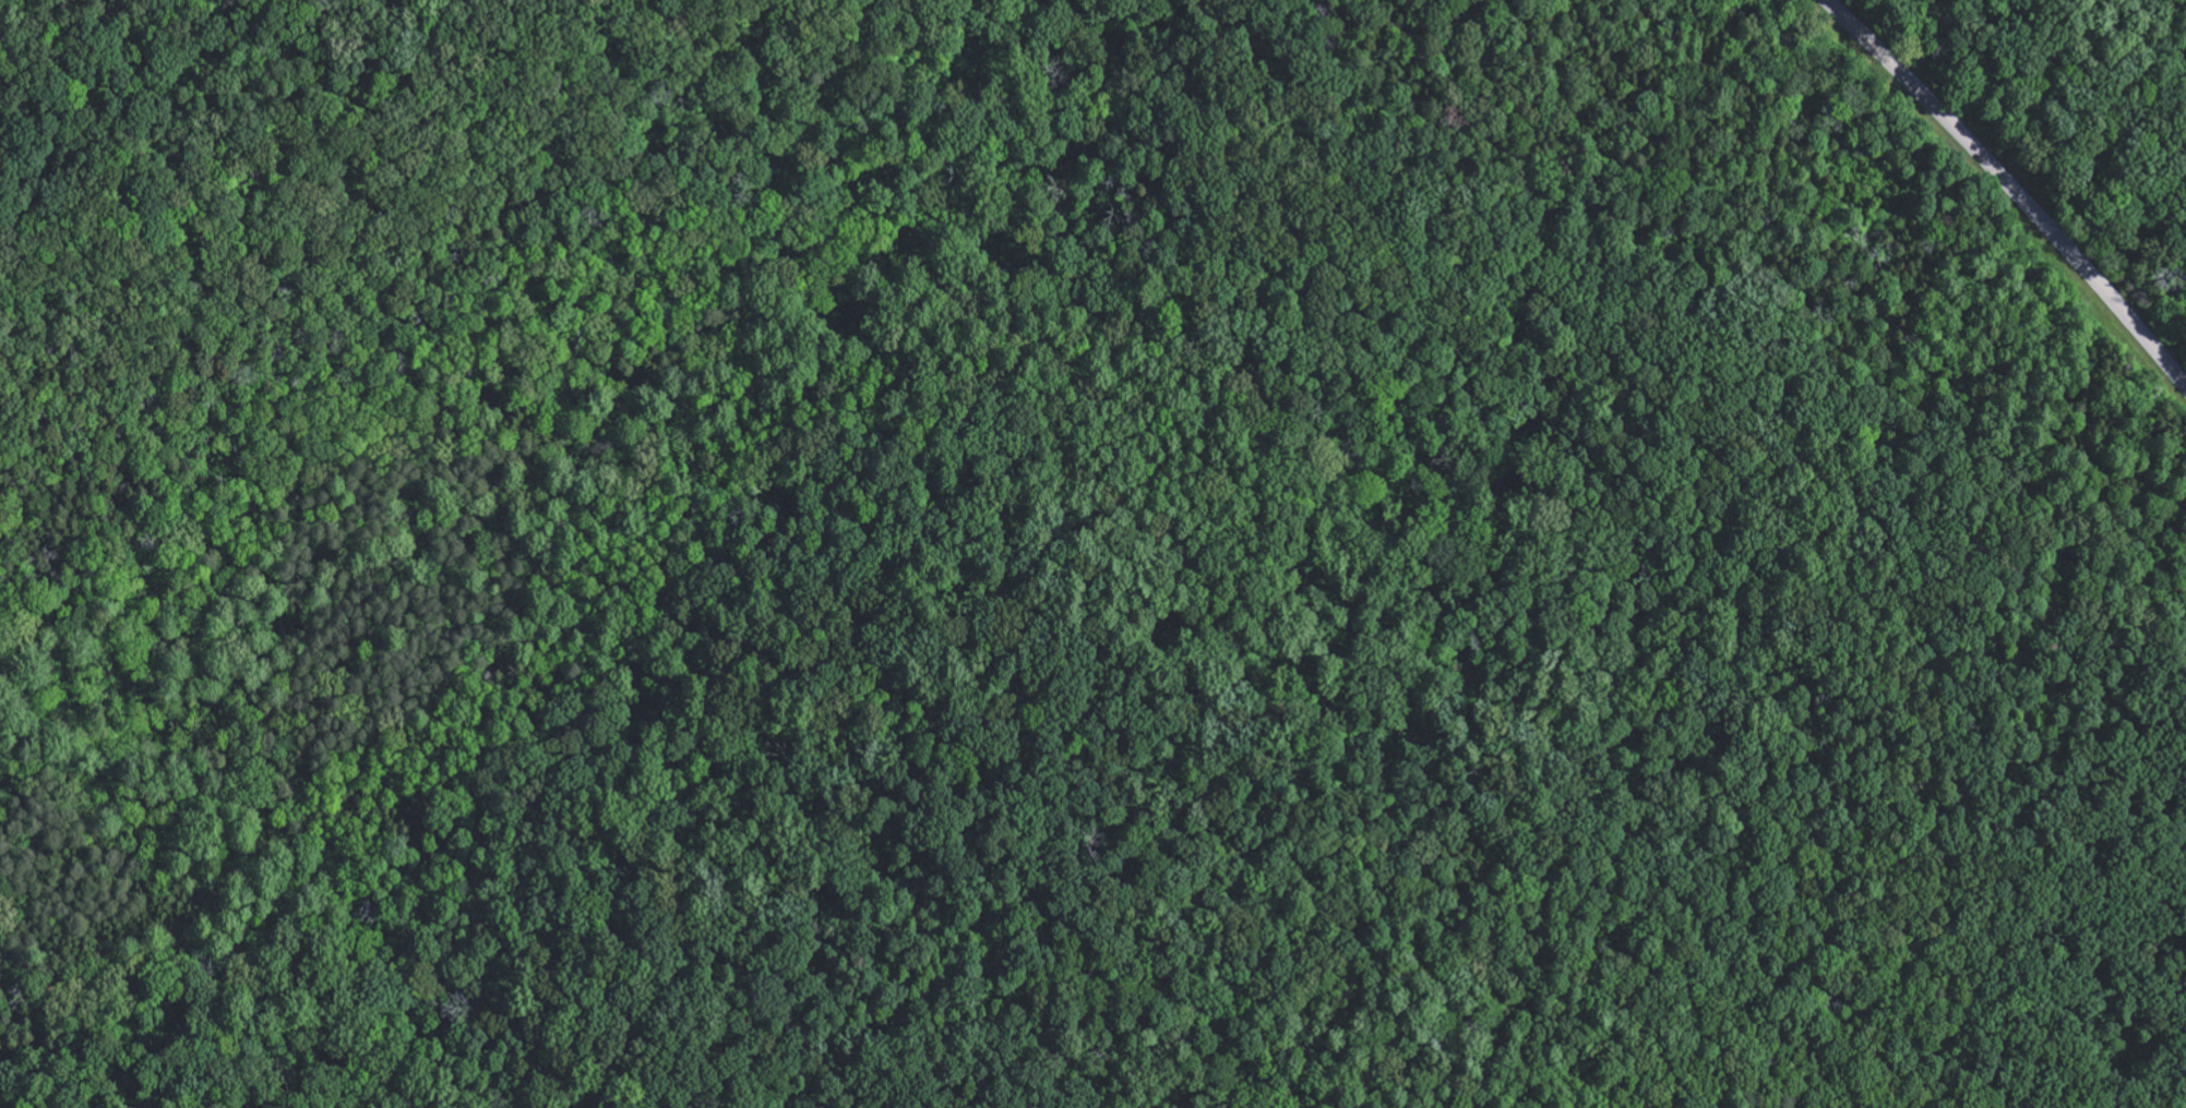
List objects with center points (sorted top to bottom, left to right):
road: (2008, 190)
road: (1924, 365)

